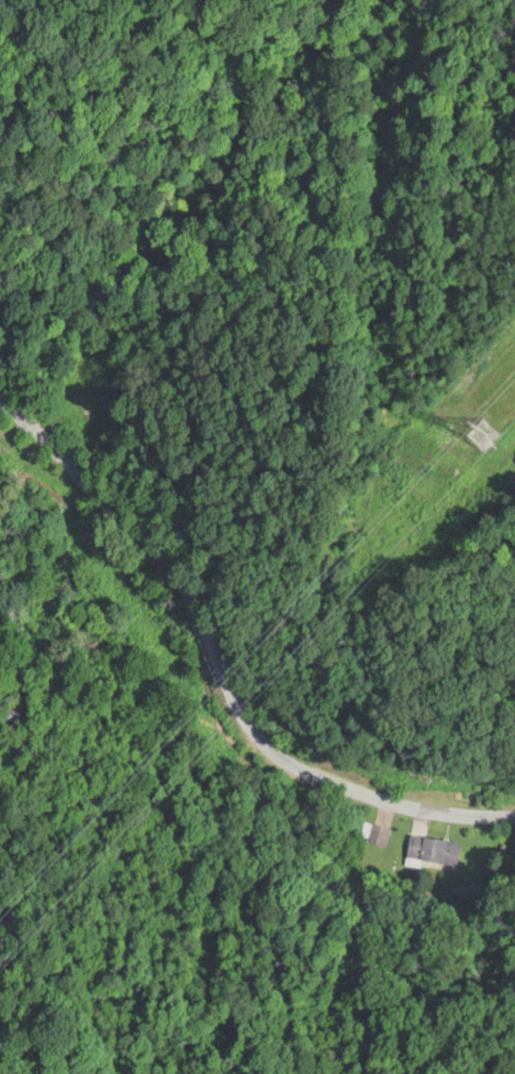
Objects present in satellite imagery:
power tower: (501, 419)
road: (221, 652)
building: (370, 828)
building: (433, 849)

